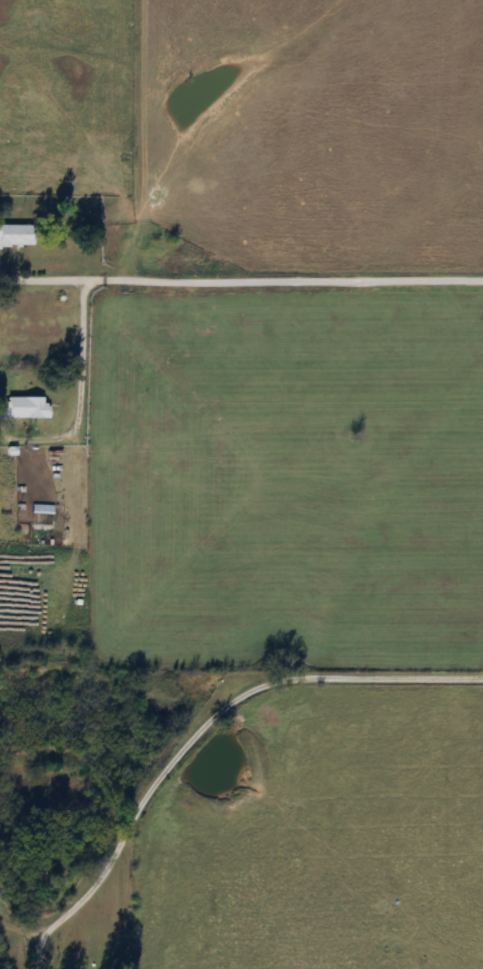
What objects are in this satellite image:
building: (14, 237)
road: (285, 286)
building: (22, 408)
building: (94, 481)
road: (212, 725)

